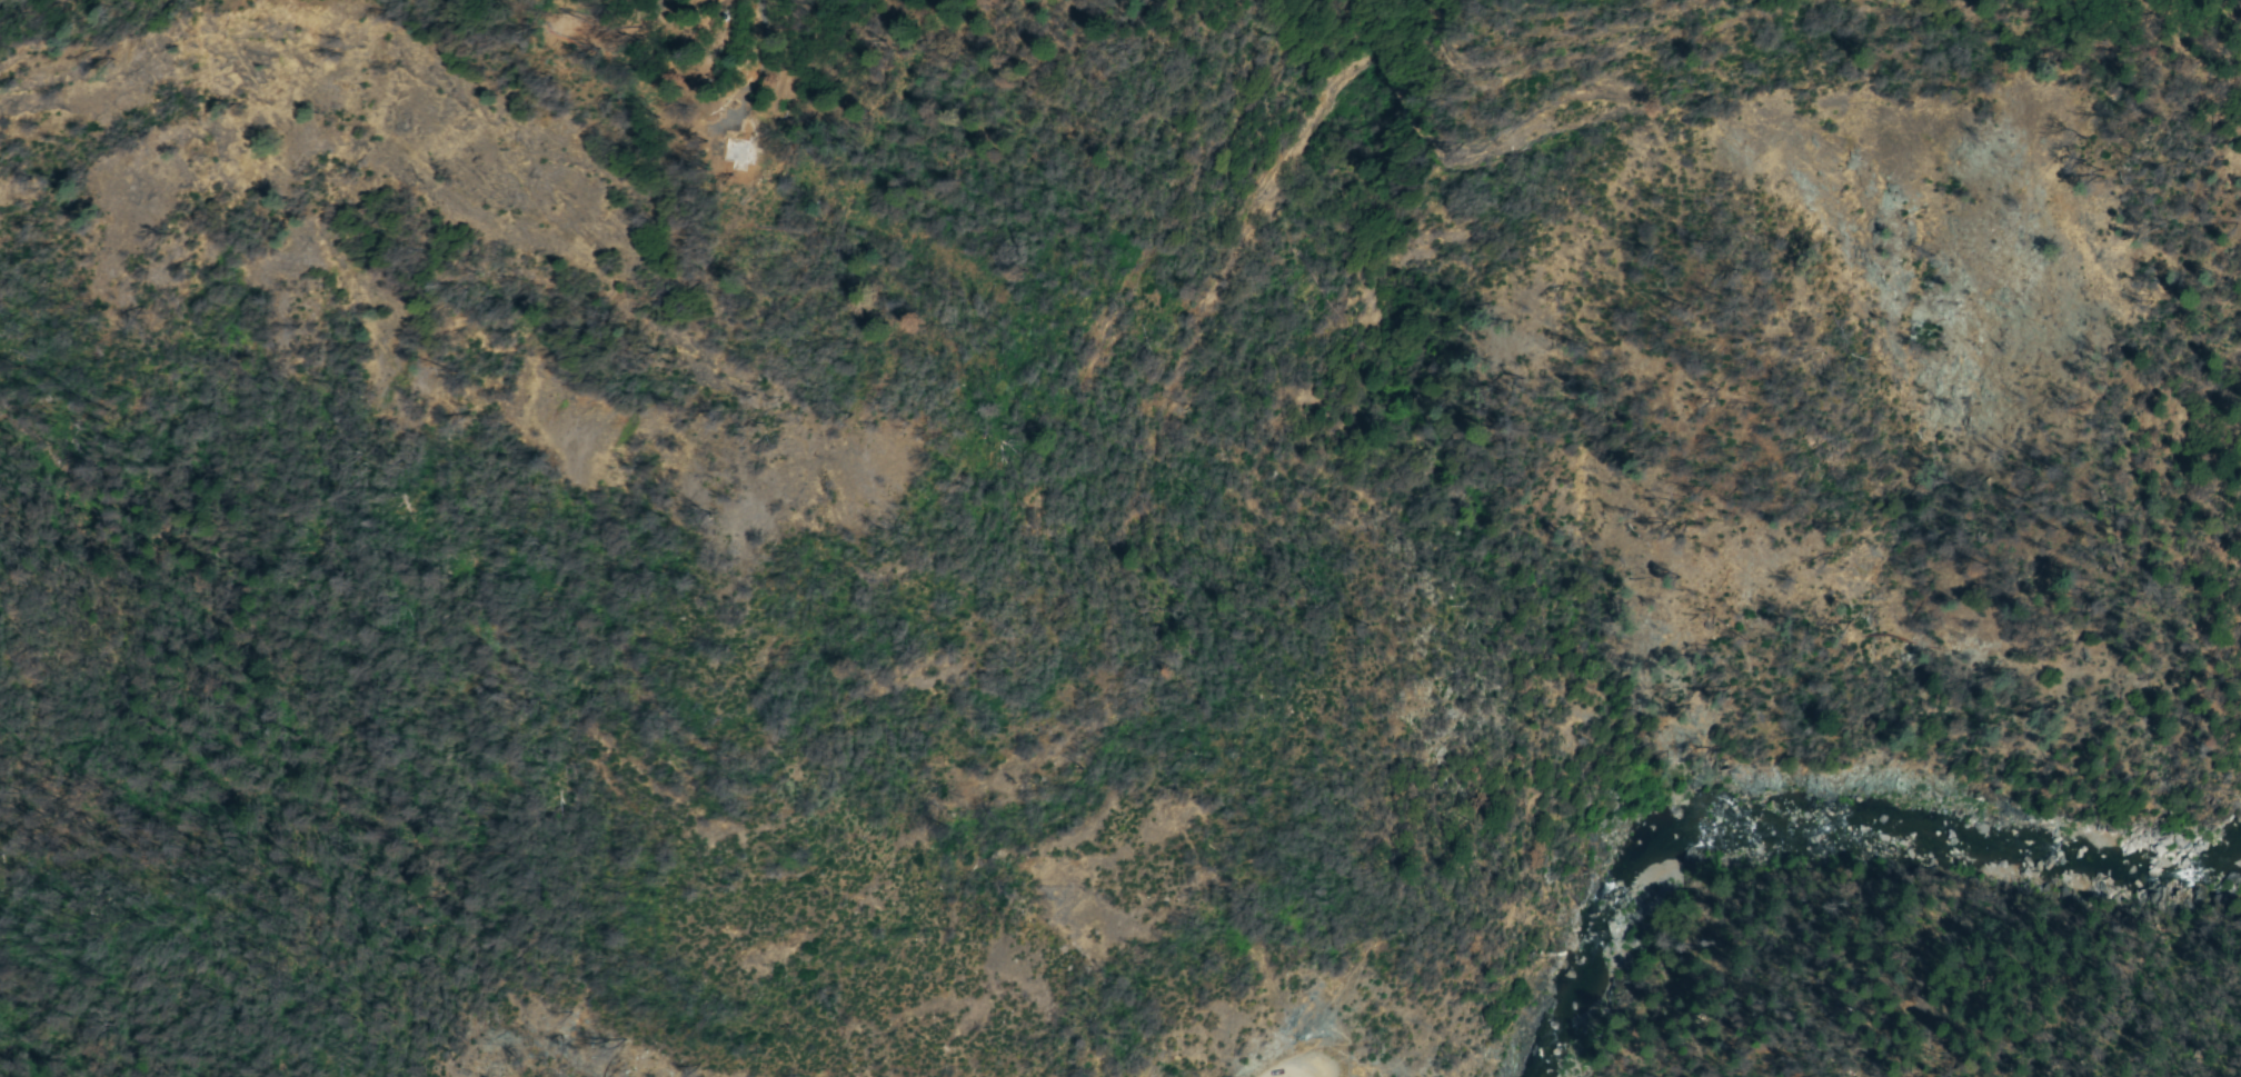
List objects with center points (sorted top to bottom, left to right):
road: (710, 10)
river: (1812, 816)

